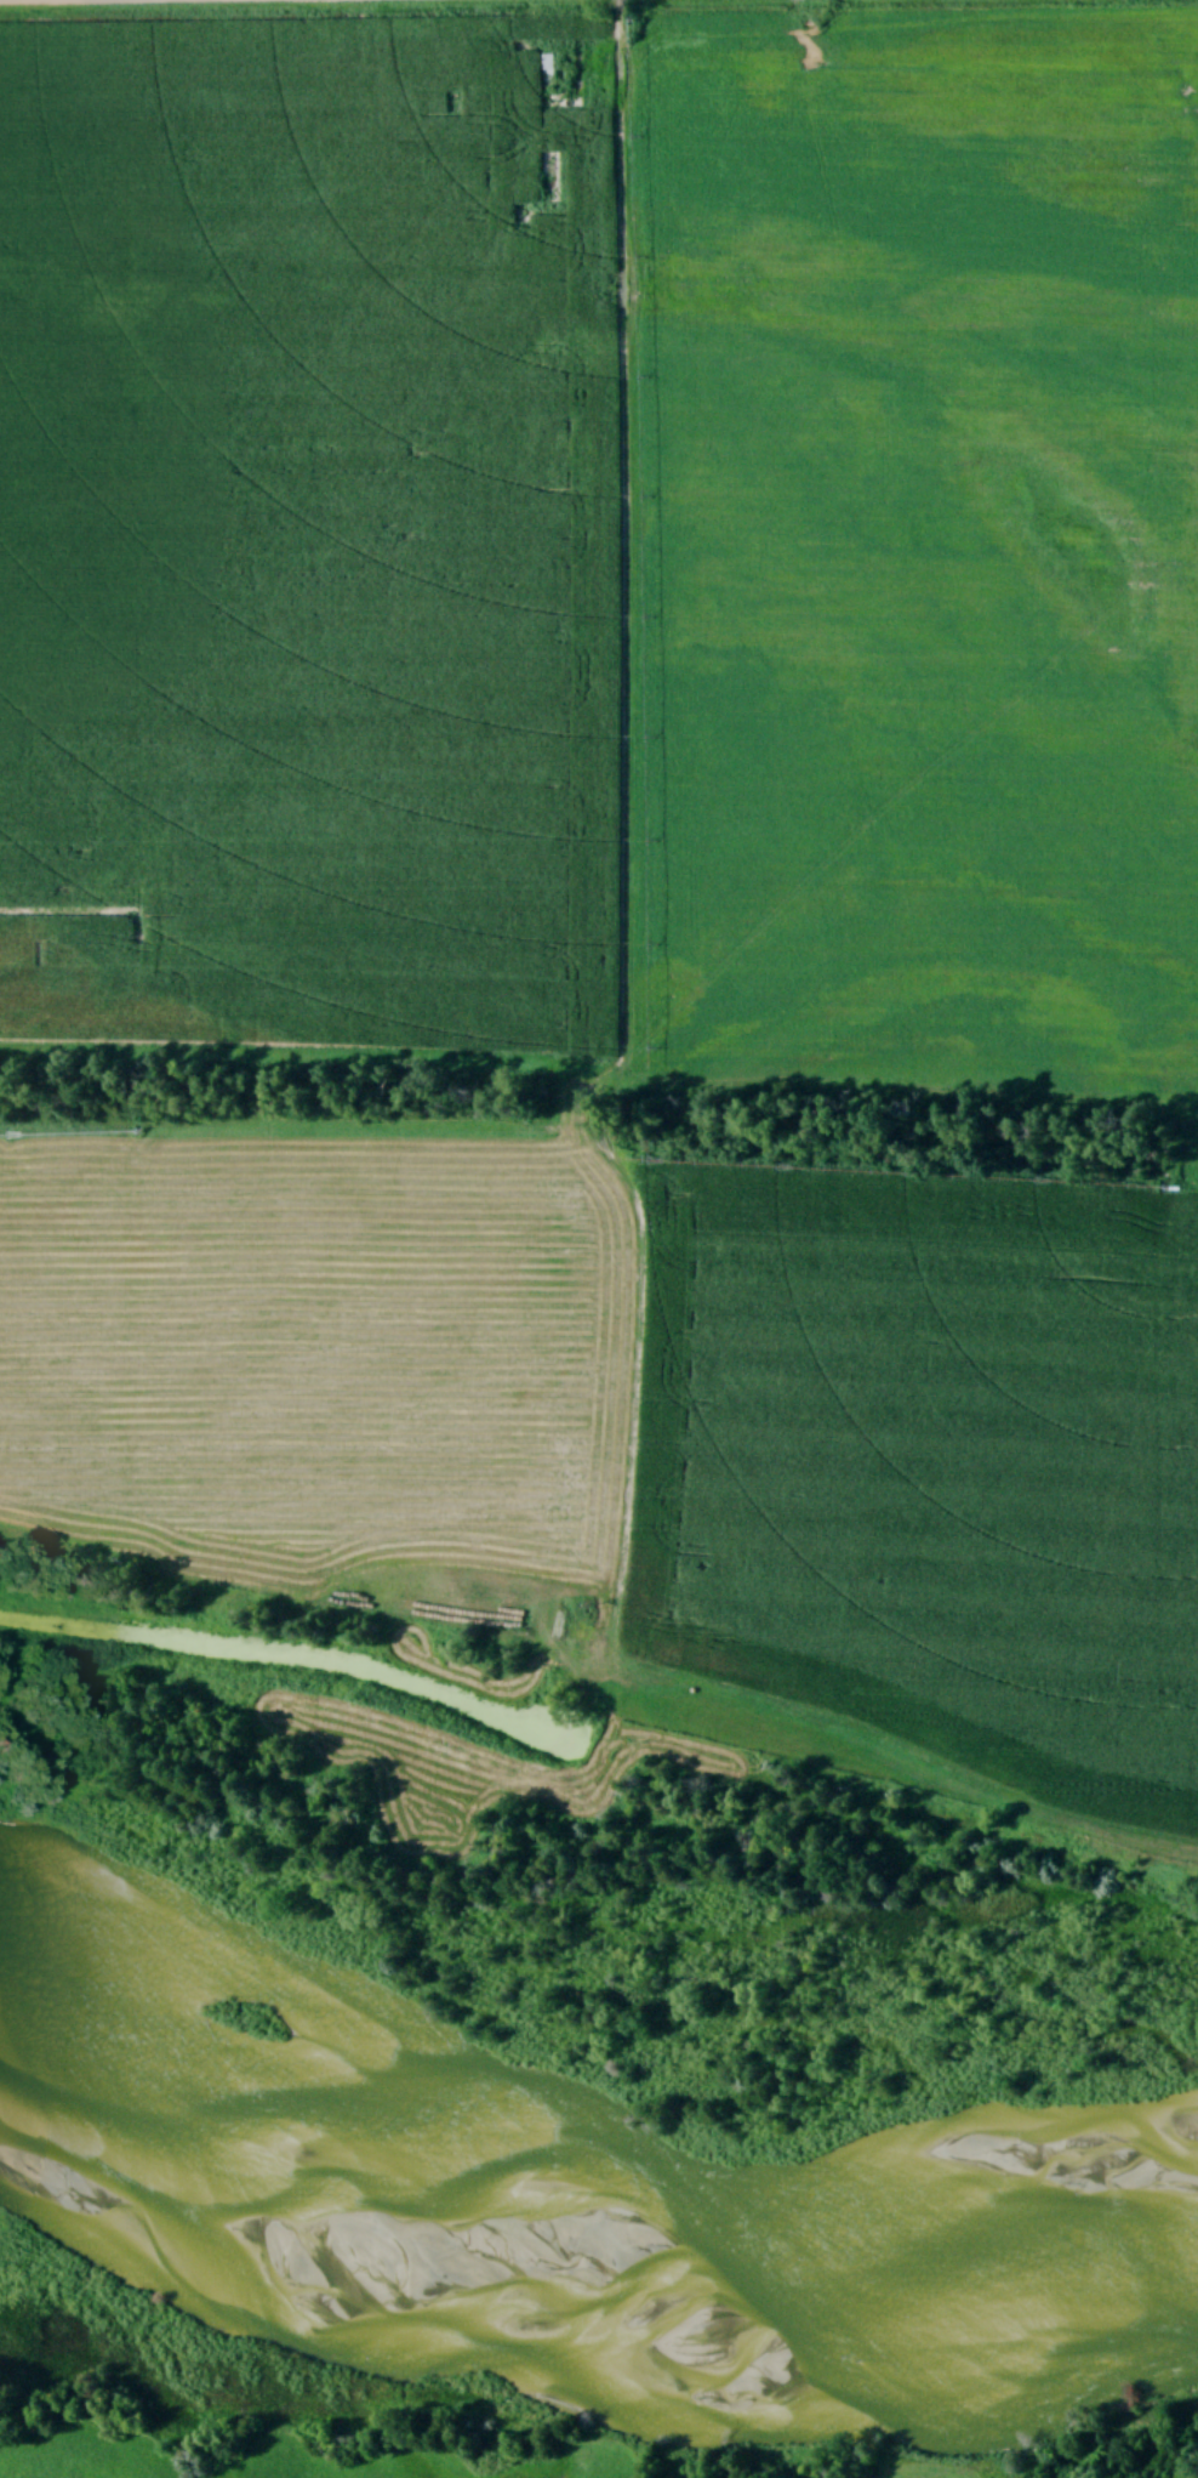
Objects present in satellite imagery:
building: (549, 75)
river: (307, 1985)
river: (848, 2359)

